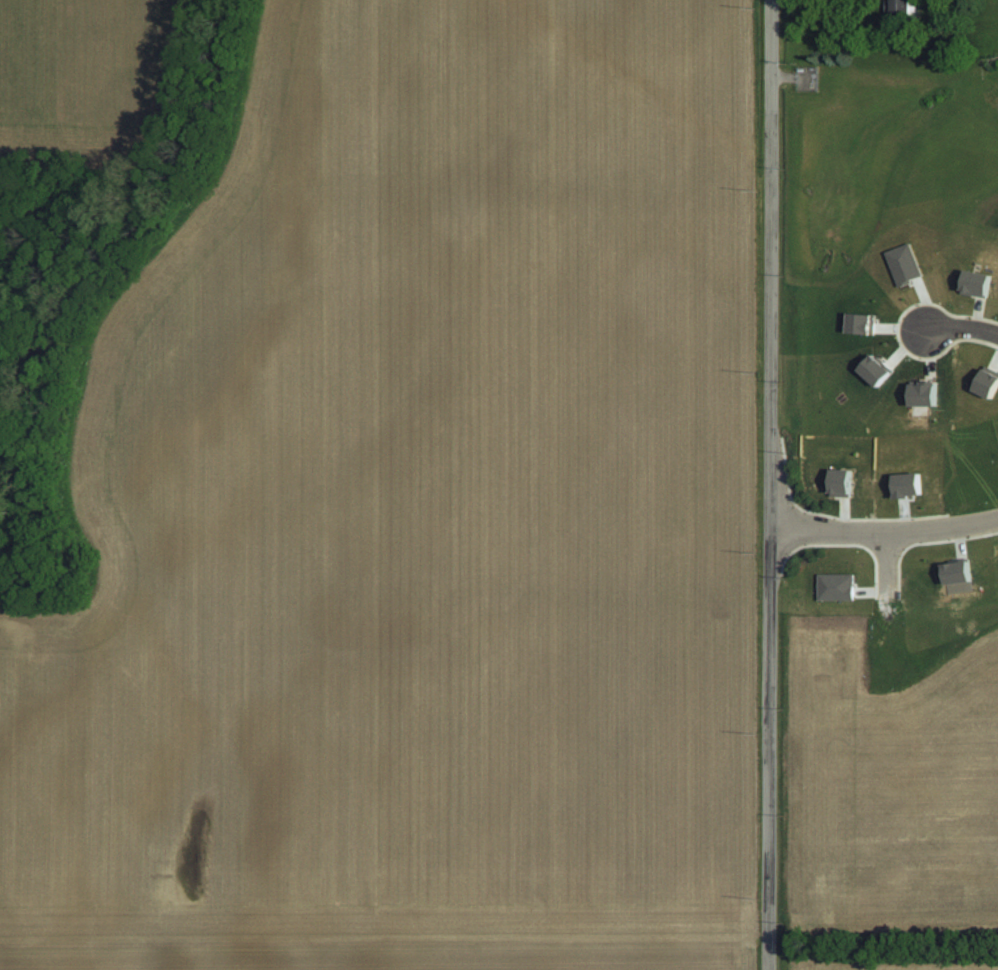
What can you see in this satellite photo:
building: (904, 6)
building: (906, 264)
building: (978, 283)
building: (863, 324)
road: (960, 326)
building: (878, 370)
building: (988, 383)
building: (925, 395)
building: (844, 483)
road: (766, 485)
building: (910, 485)
road: (882, 530)
road: (884, 563)
building: (958, 573)
building: (837, 587)

